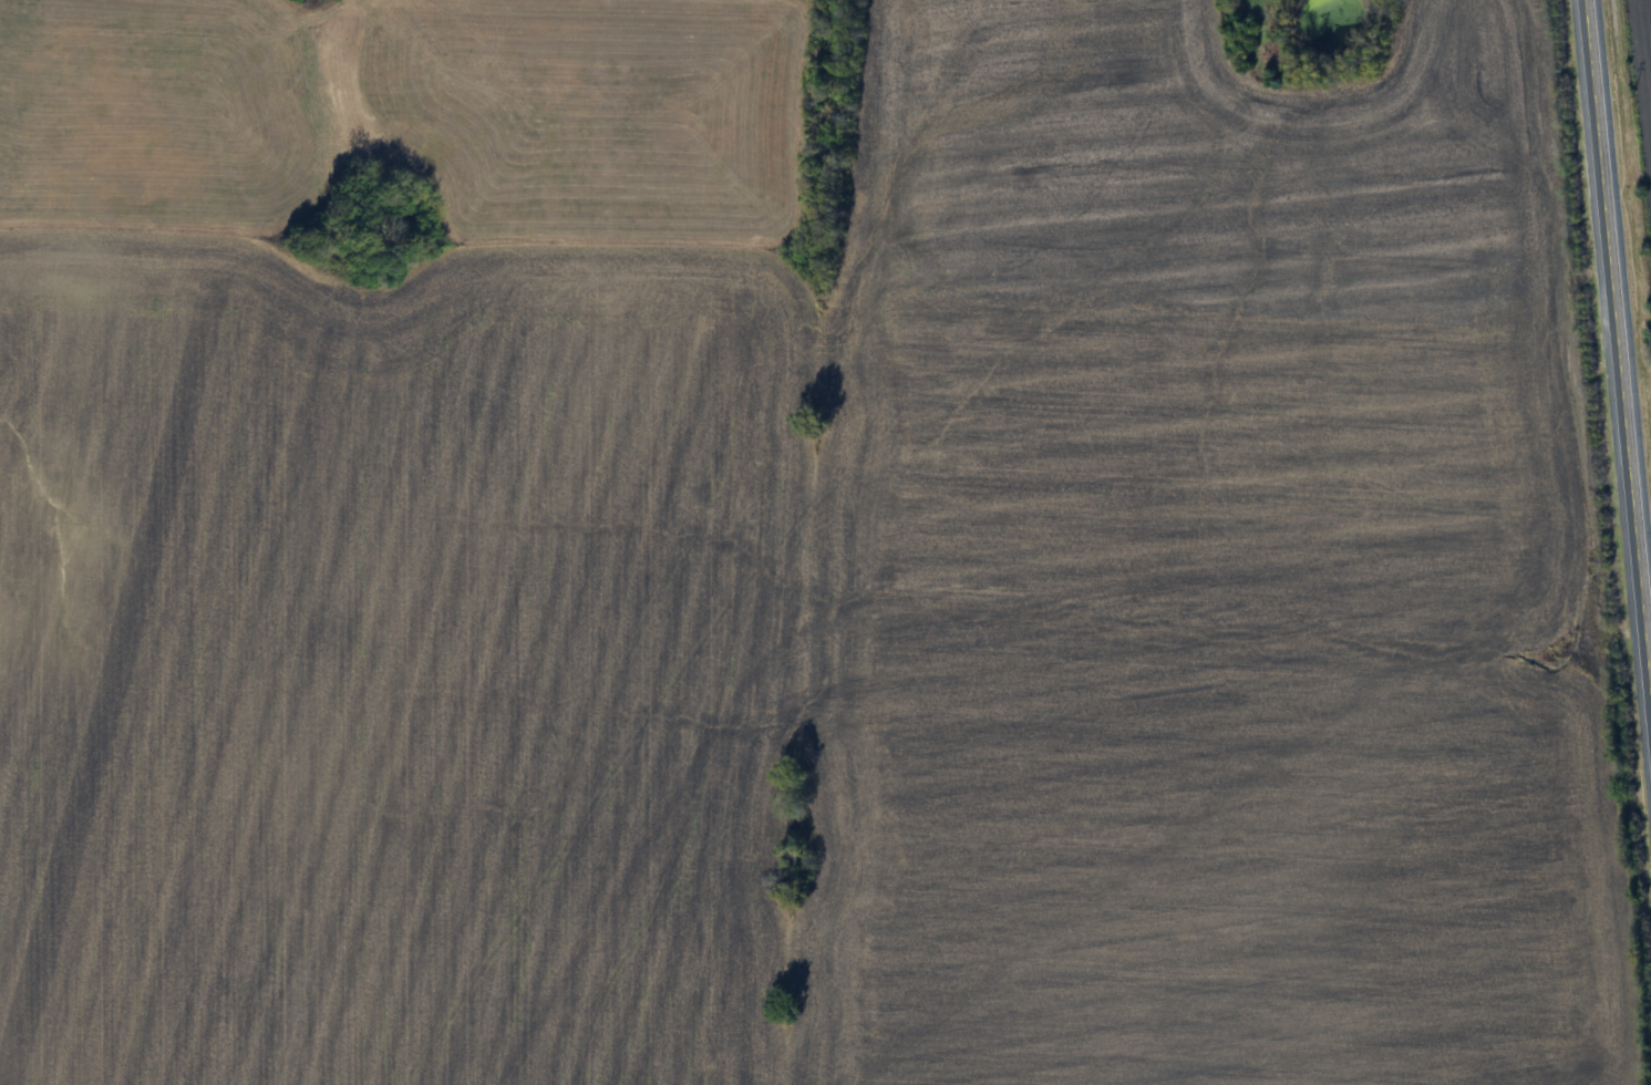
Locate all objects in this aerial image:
road: (1618, 319)

